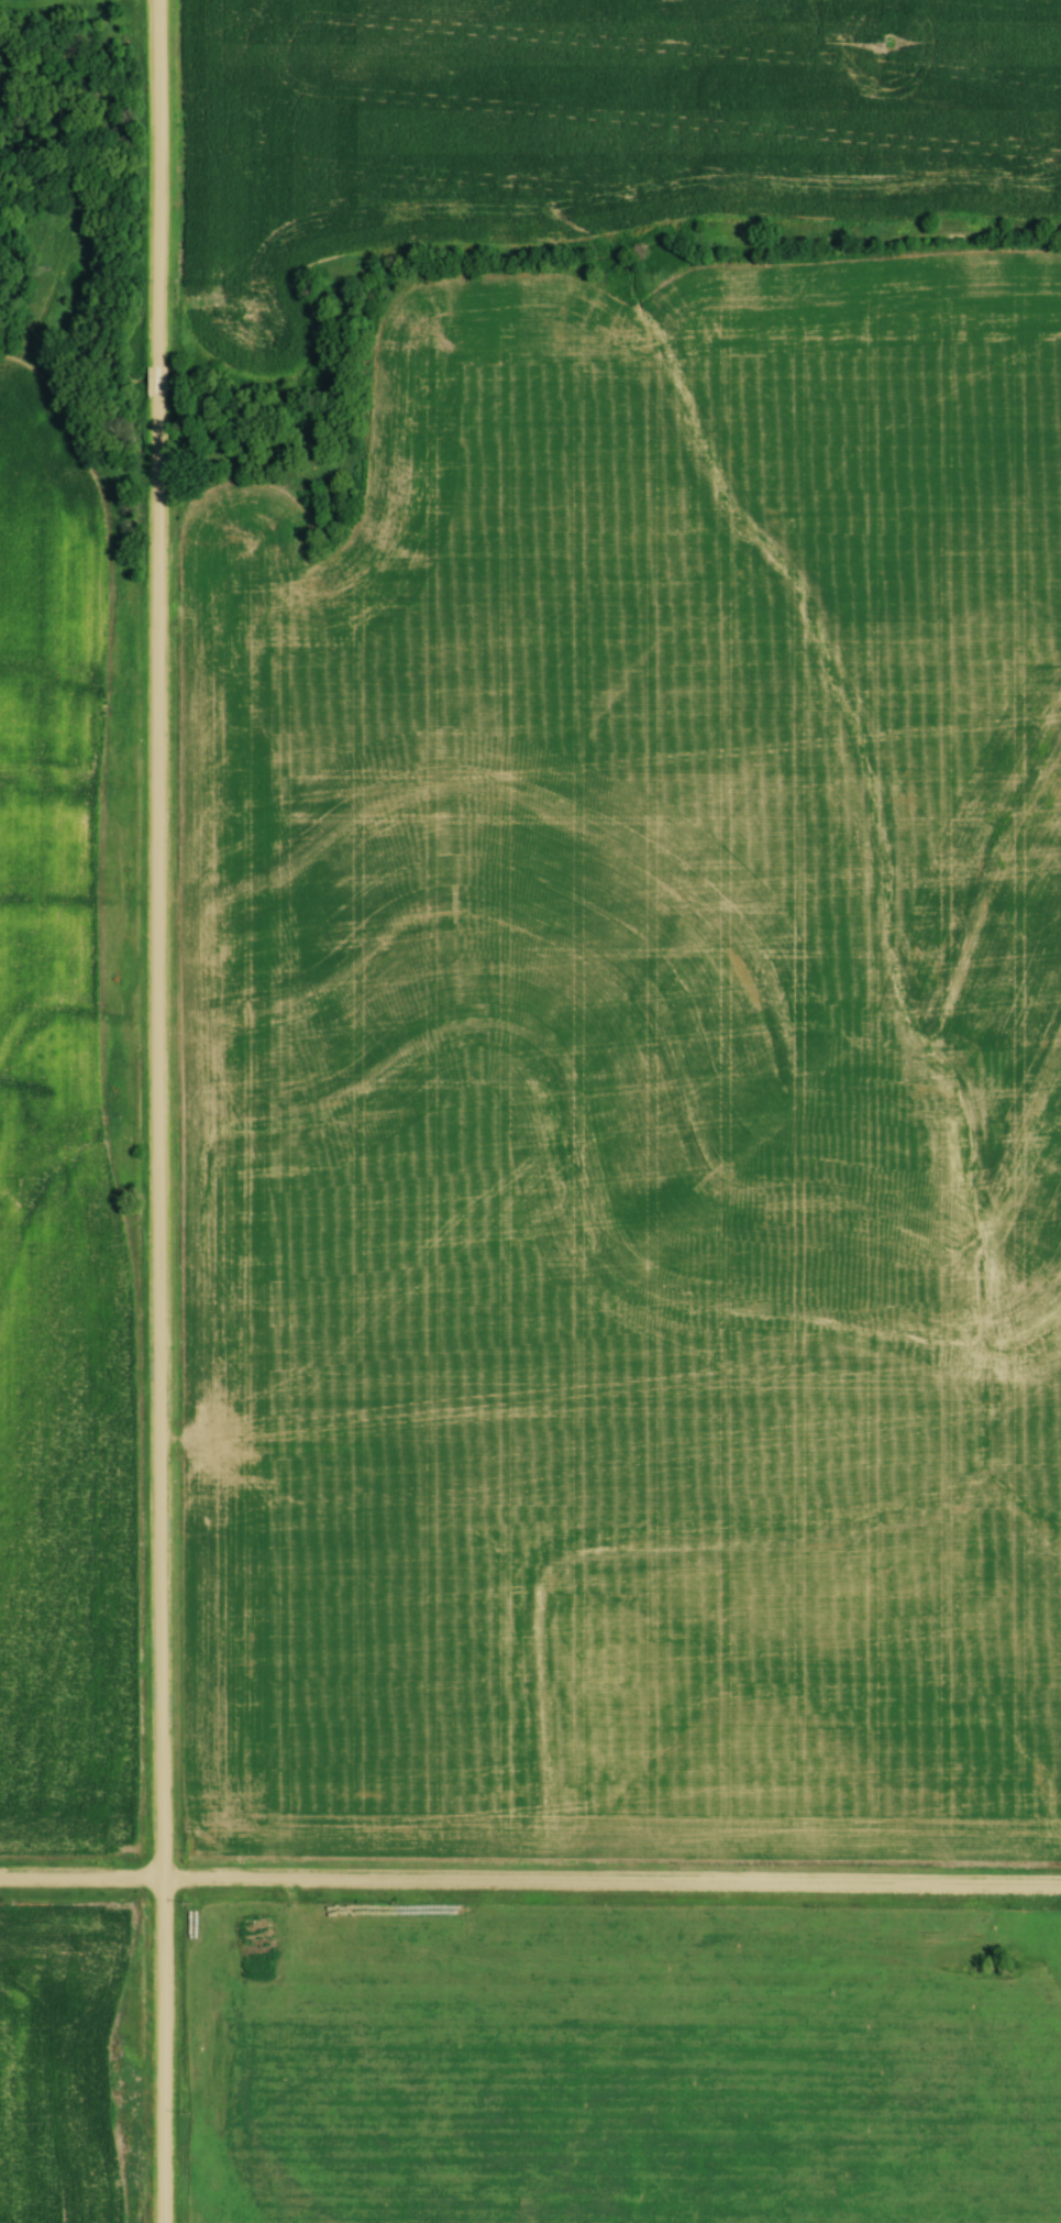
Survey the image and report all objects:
road: (151, 1111)
road: (530, 1881)

